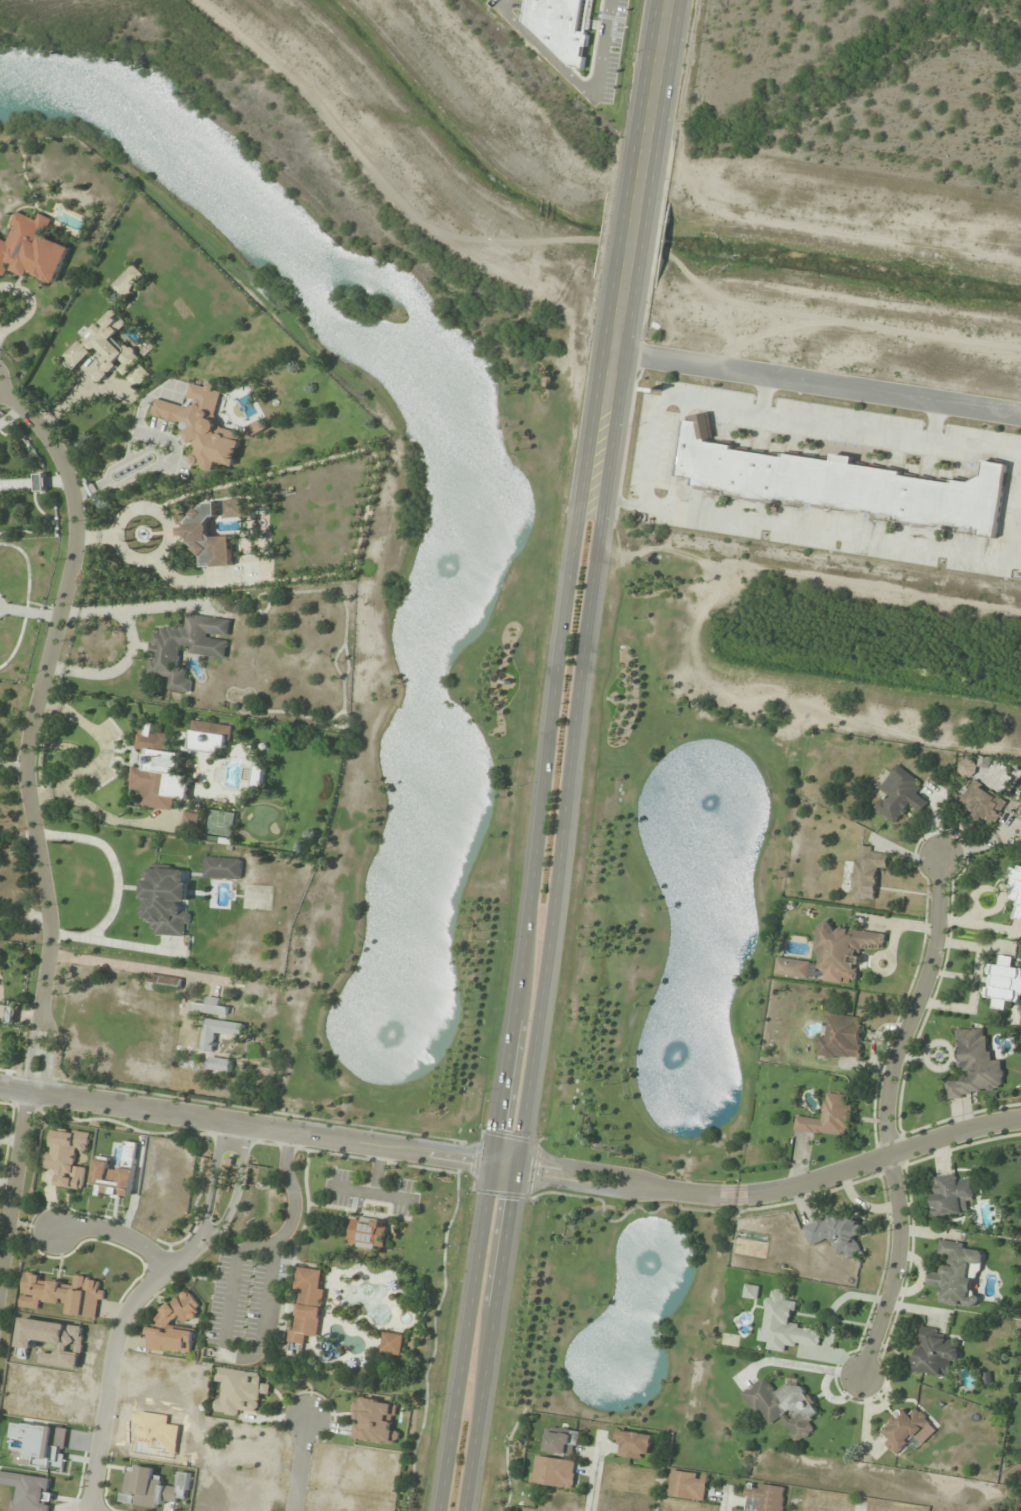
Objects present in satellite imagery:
road: (642, 169)
building: (32, 250)
building: (129, 282)
building: (105, 348)
road: (817, 375)
building: (140, 376)
building: (203, 426)
building: (257, 428)
building: (837, 483)
building: (234, 508)
building: (208, 538)
building: (187, 647)
building: (210, 737)
building: (967, 768)
building: (159, 771)
building: (260, 776)
building: (900, 795)
building: (983, 804)
road: (31, 810)
building: (224, 868)
building: (867, 871)
building: (1016, 892)
building: (167, 901)
road: (523, 924)
road: (549, 926)
building: (834, 955)
building: (1003, 982)
building: (165, 983)
building: (212, 1007)
building: (841, 1038)
building: (218, 1042)
building: (973, 1066)
road: (880, 1116)
building: (829, 1117)
road: (259, 1126)
building: (67, 1157)
traffic signals: (488, 1163)
traffic signals: (519, 1168)
building: (117, 1173)
road: (774, 1191)
building: (951, 1195)
road: (112, 1232)
building: (369, 1233)
building: (836, 1233)
building: (956, 1274)
building: (751, 1291)
building: (64, 1294)
road: (128, 1299)
building: (308, 1304)
building: (165, 1324)
building: (784, 1324)
building: (393, 1343)
building: (934, 1353)
building: (240, 1391)
building: (783, 1405)
building: (374, 1421)
building: (904, 1429)
building: (562, 1442)
building: (634, 1445)
road: (298, 1465)
building: (553, 1472)
building: (688, 1486)
building: (151, 1488)
building: (764, 1497)

